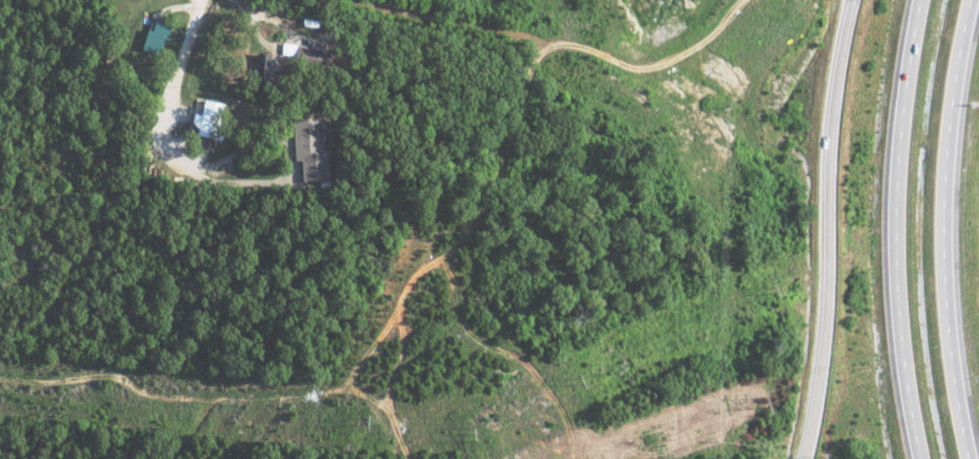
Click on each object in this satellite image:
building: (153, 37)
building: (289, 61)
road: (177, 63)
building: (205, 119)
building: (310, 149)
road: (827, 229)
road: (897, 229)
road: (942, 229)
power tower: (770, 290)
power tower: (578, 381)
power tower: (763, 403)
power tower: (373, 424)
power tower: (473, 434)

